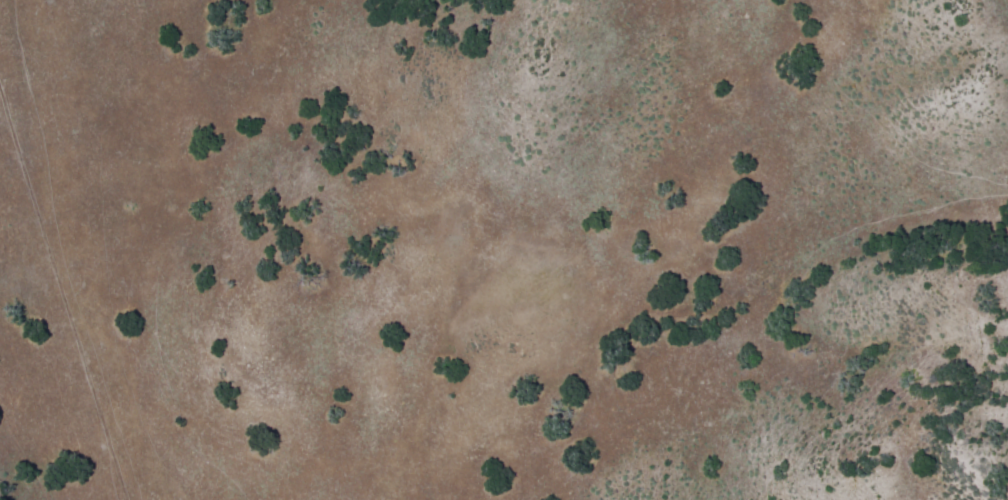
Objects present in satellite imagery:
road: (71, 251)

